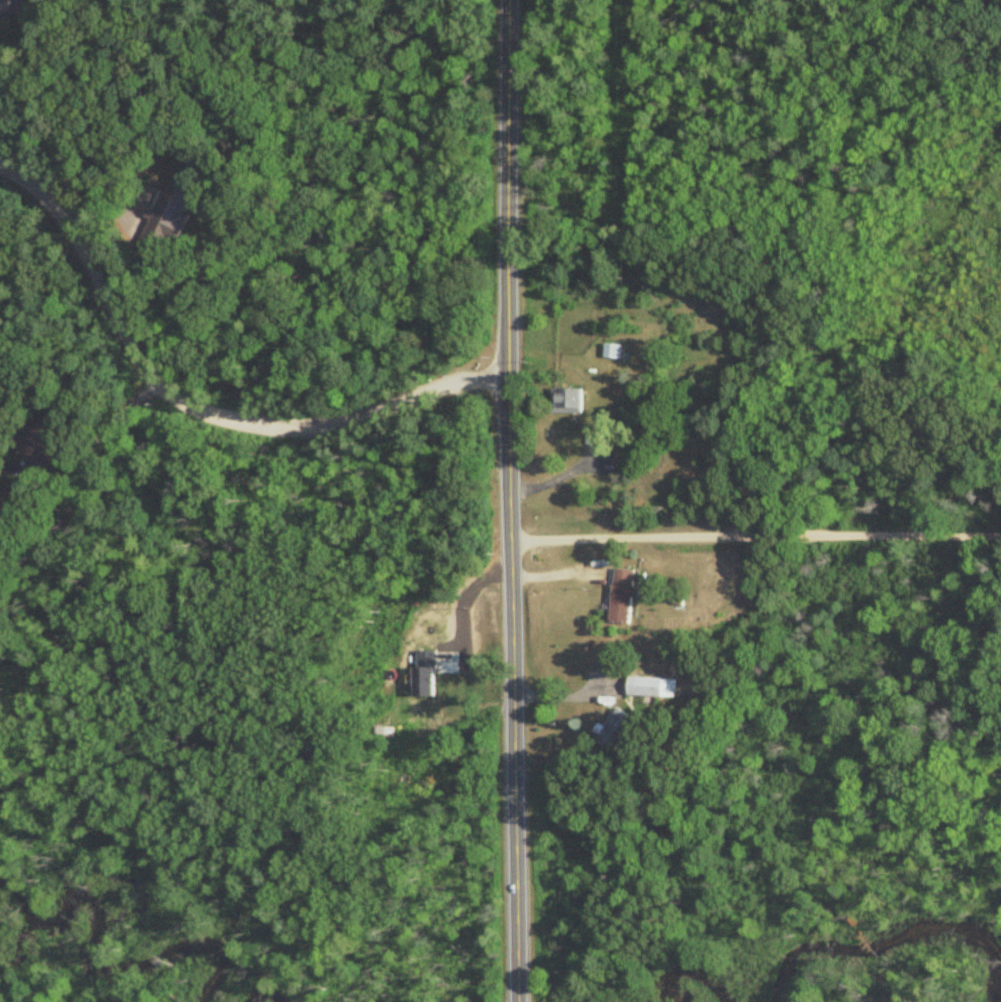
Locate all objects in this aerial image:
building: (12, 8)
road: (29, 54)
building: (168, 216)
building: (613, 352)
building: (569, 402)
road: (200, 406)
road: (113, 421)
building: (36, 443)
road: (573, 470)
road: (515, 500)
road: (757, 535)
building: (622, 596)
building: (651, 687)
road: (571, 697)
building: (615, 730)

